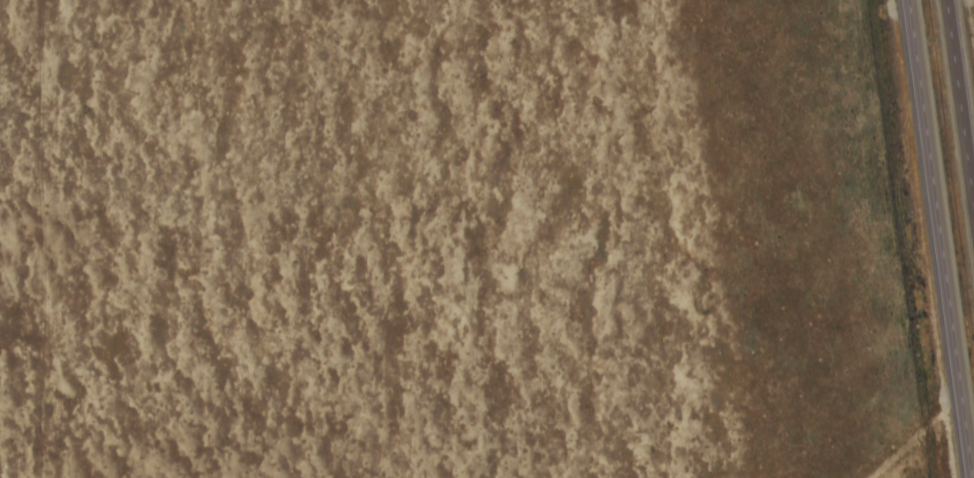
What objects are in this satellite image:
road: (961, 92)
road: (936, 239)

